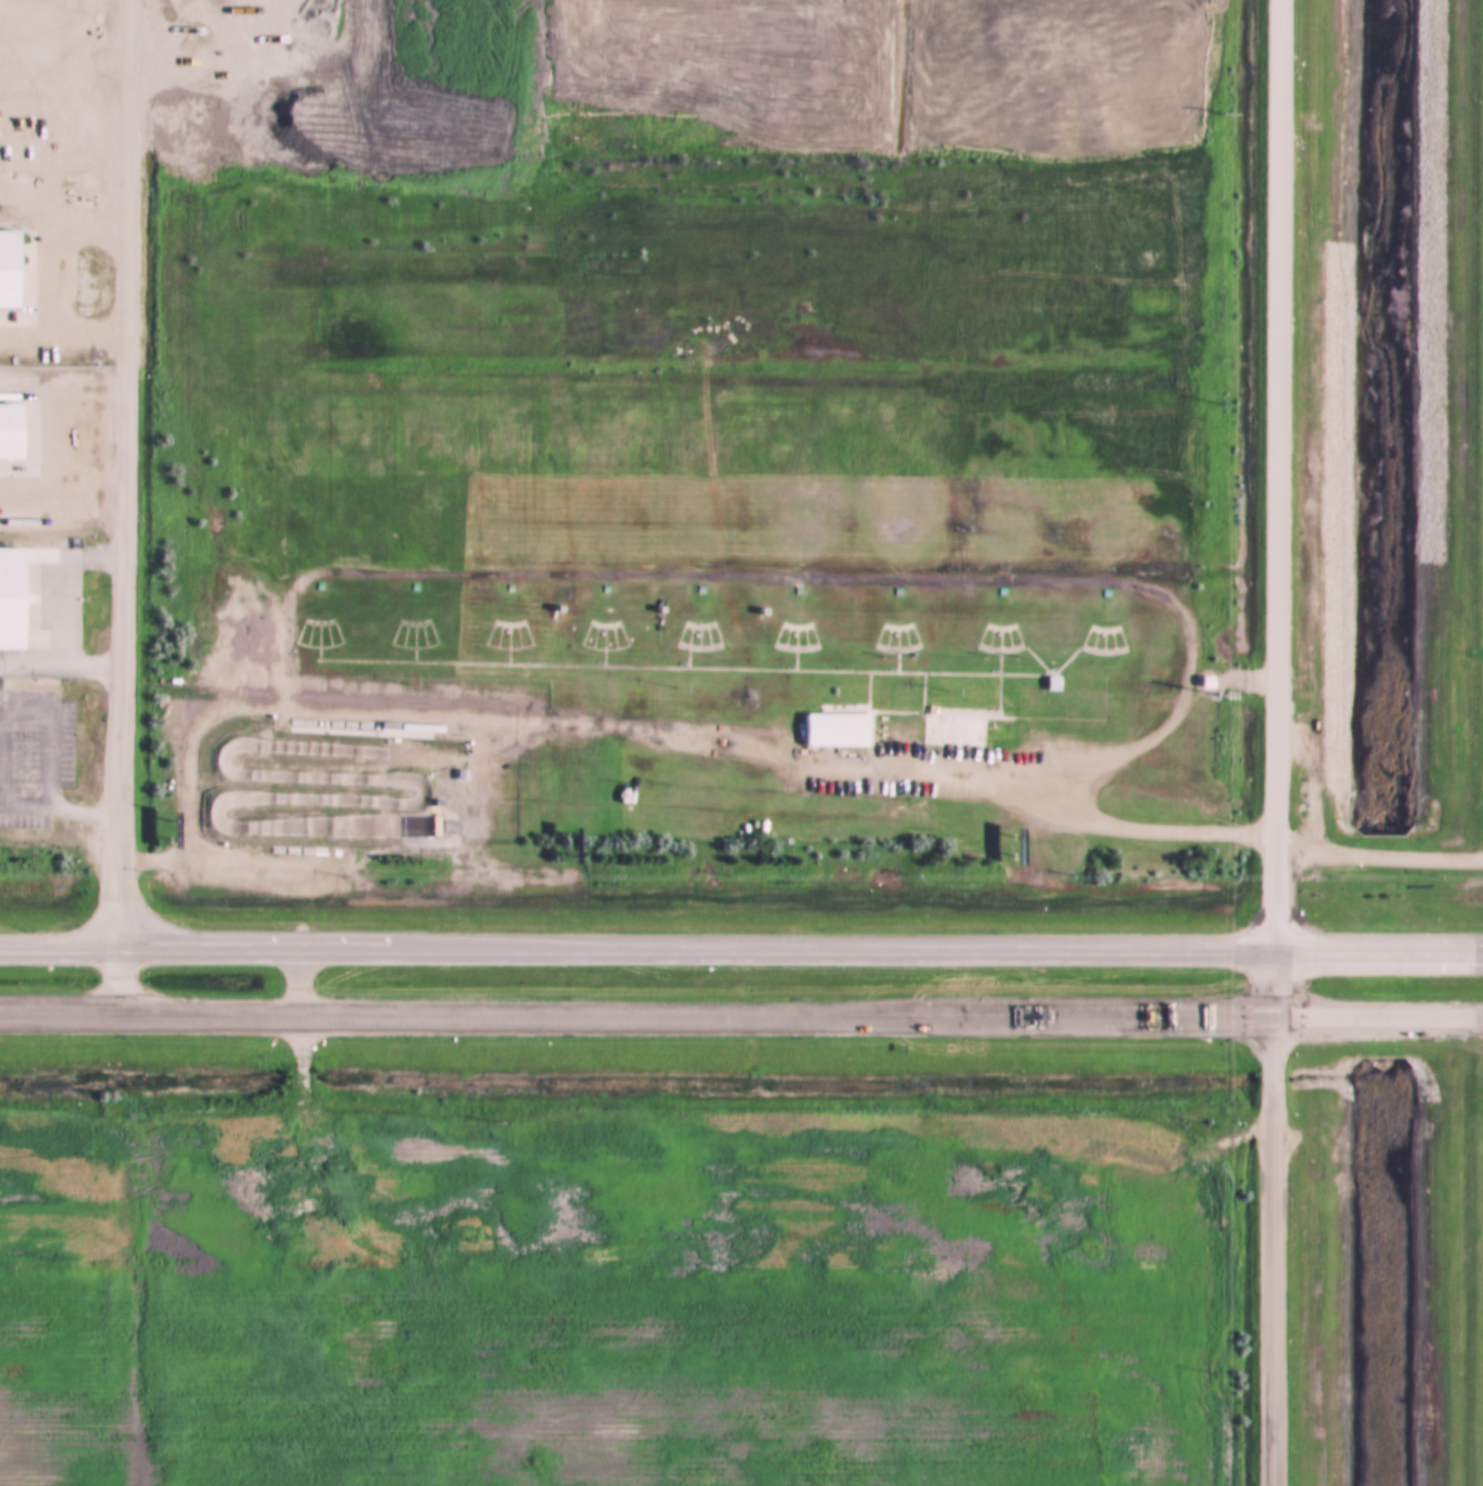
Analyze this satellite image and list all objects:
quarry: (338, 87)
building: (12, 261)
road: (63, 282)
building: (14, 433)
crop: (1478, 475)
road: (128, 507)
road: (1277, 508)
building: (313, 585)
building: (408, 586)
building: (503, 587)
building: (599, 588)
building: (693, 590)
building: (791, 591)
building: (891, 592)
building: (996, 593)
building: (1099, 594)
building: (17, 602)
park: (726, 605)
building: (551, 611)
building: (654, 612)
building: (756, 613)
road: (314, 625)
road: (409, 626)
road: (599, 626)
road: (694, 626)
road: (503, 627)
road: (791, 628)
road: (892, 629)
road: (994, 629)
road: (1098, 631)
road: (296, 633)
road: (332, 633)
road: (391, 634)
road: (427, 634)
road: (485, 635)
road: (521, 635)
road: (581, 635)
road: (617, 635)
road: (676, 635)
road: (712, 635)
road: (304, 636)
road: (323, 636)
road: (773, 636)
road: (809, 636)
road: (399, 637)
road: (418, 637)
road: (874, 637)
road: (910, 637)
road: (976, 637)
road: (1012, 637)
road: (493, 638)
road: (512, 638)
road: (590, 638)
road: (608, 638)
road: (703, 638)
road: (694, 639)
road: (781, 639)
road: (800, 639)
road: (1080, 639)
road: (1116, 639)
road: (883, 640)
road: (901, 640)
road: (985, 640)
road: (1003, 640)
road: (1089, 642)
road: (1107, 642)
road: (1098, 643)
road: (314, 644)
road: (409, 645)
road: (503, 646)
road: (599, 647)
road: (683, 647)
road: (791, 649)
road: (314, 650)
road: (409, 650)
road: (503, 650)
road: (599, 650)
road: (694, 650)
road: (892, 651)
road: (892, 652)
road: (994, 652)
road: (791, 653)
road: (1098, 654)
road: (1029, 661)
road: (699, 669)
road: (994, 682)
building: (1198, 682)
building: (1044, 683)
street lamp: (401, 687)
street lamp: (672, 690)
street lamp: (943, 692)
building: (251, 720)
building: (947, 726)
building: (383, 727)
building: (414, 729)
building: (829, 729)
building: (454, 775)
raceway: (412, 788)
building: (431, 803)
road: (1128, 826)
road: (741, 951)
road: (741, 1015)
road: (296, 1081)
road: (1268, 1251)
crop: (1461, 1292)
crop: (605, 1307)

